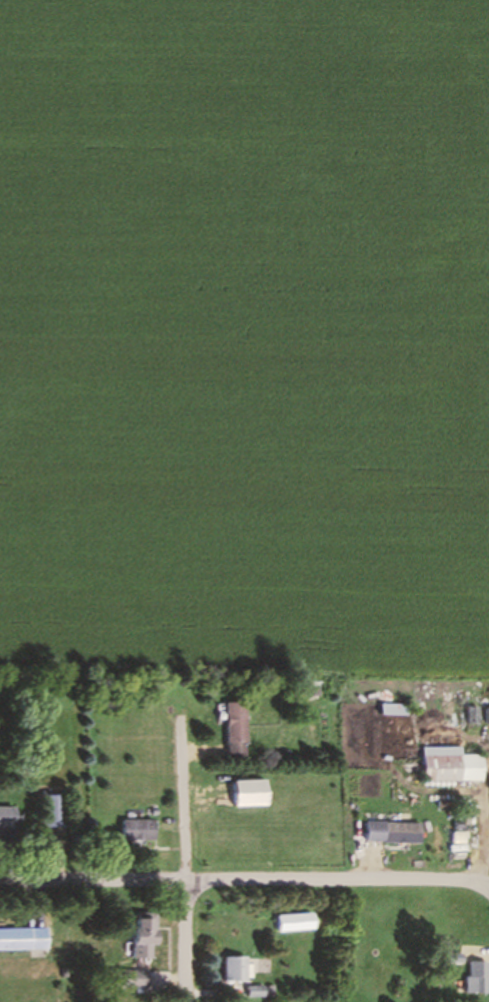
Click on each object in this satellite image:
building: (316, 688)
building: (390, 709)
building: (234, 730)
building: (439, 763)
building: (52, 807)
building: (7, 817)
building: (136, 829)
building: (389, 831)
road: (245, 878)
building: (292, 922)
building: (143, 935)
building: (23, 939)
road: (183, 940)
building: (233, 969)
building: (474, 977)
building: (129, 979)

